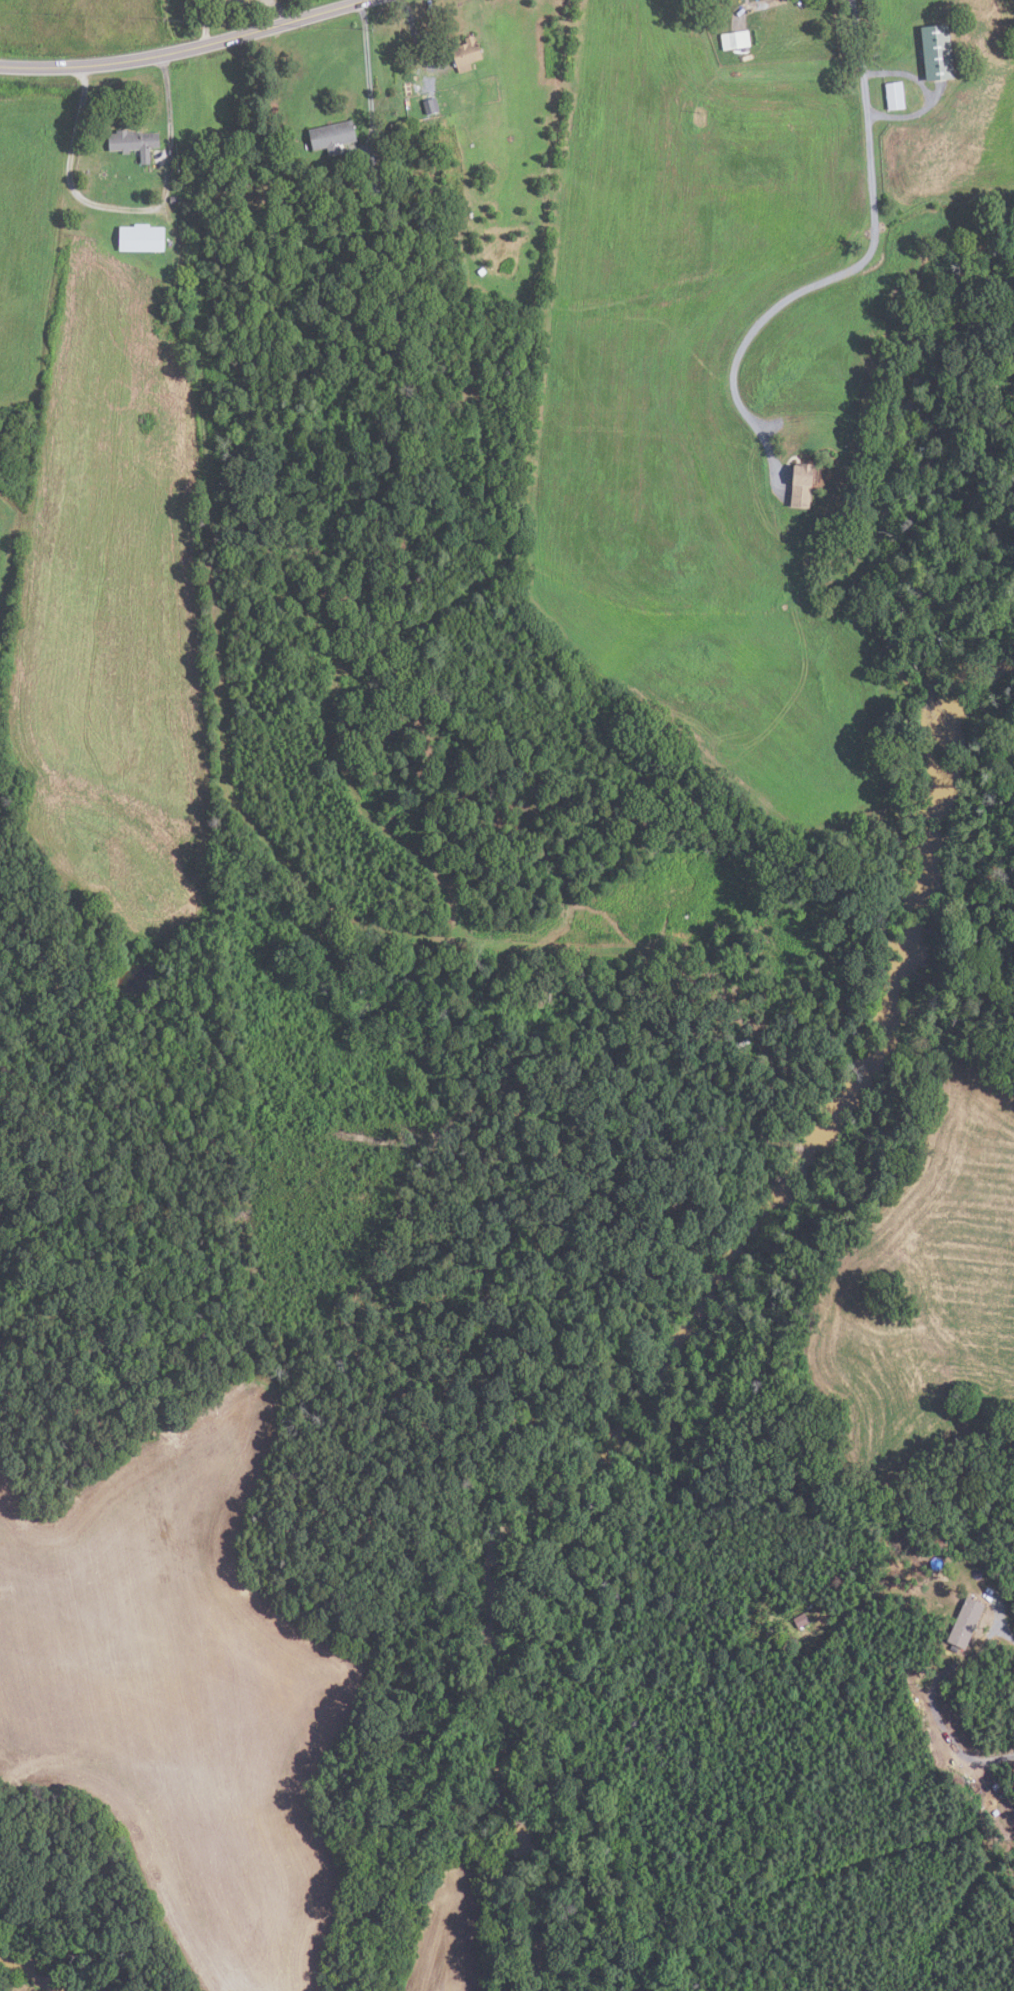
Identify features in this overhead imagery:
road: (277, 8)
road: (203, 21)
road: (415, 39)
building: (739, 39)
road: (180, 49)
building: (467, 53)
building: (938, 53)
road: (367, 83)
road: (927, 95)
building: (895, 96)
building: (426, 107)
building: (334, 135)
building: (134, 143)
building: (351, 178)
building: (378, 185)
building: (173, 199)
road: (124, 209)
crop: (30, 237)
building: (142, 237)
road: (849, 269)
building: (172, 304)
crop: (689, 398)
building: (804, 484)
crop: (9, 545)
crop: (111, 649)
building: (530, 823)
crop: (927, 1294)
building: (801, 1622)
road: (1003, 1622)
building: (967, 1623)
crop: (182, 1691)
road: (945, 1732)
crop: (443, 1932)

